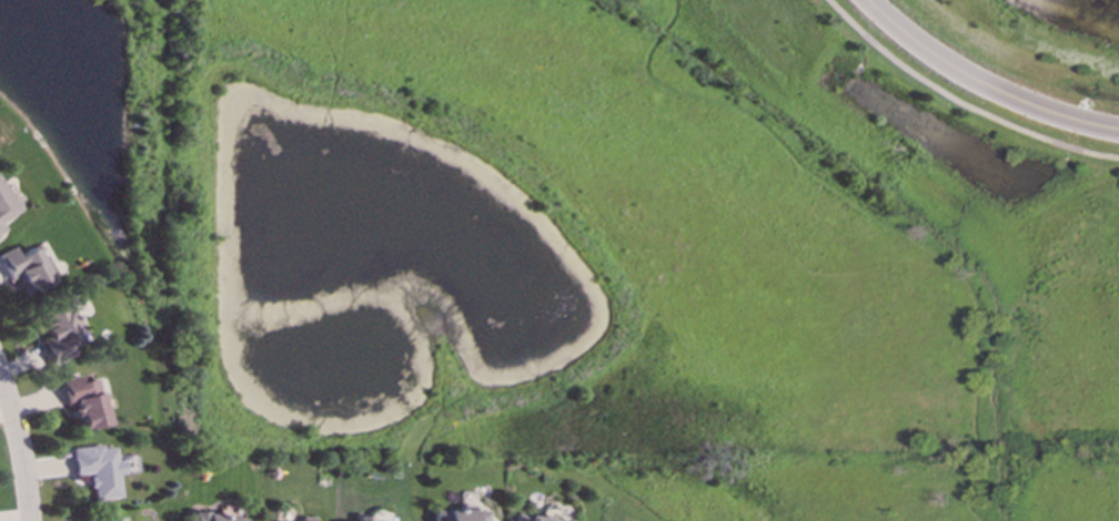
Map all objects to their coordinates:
road: (984, 83)
road: (959, 103)
building: (6, 206)
park: (612, 234)
building: (26, 269)
building: (60, 333)
building: (84, 402)
road: (22, 447)
building: (102, 470)
building: (457, 515)
building: (218, 518)
building: (110, 519)
building: (305, 519)
building: (527, 519)

